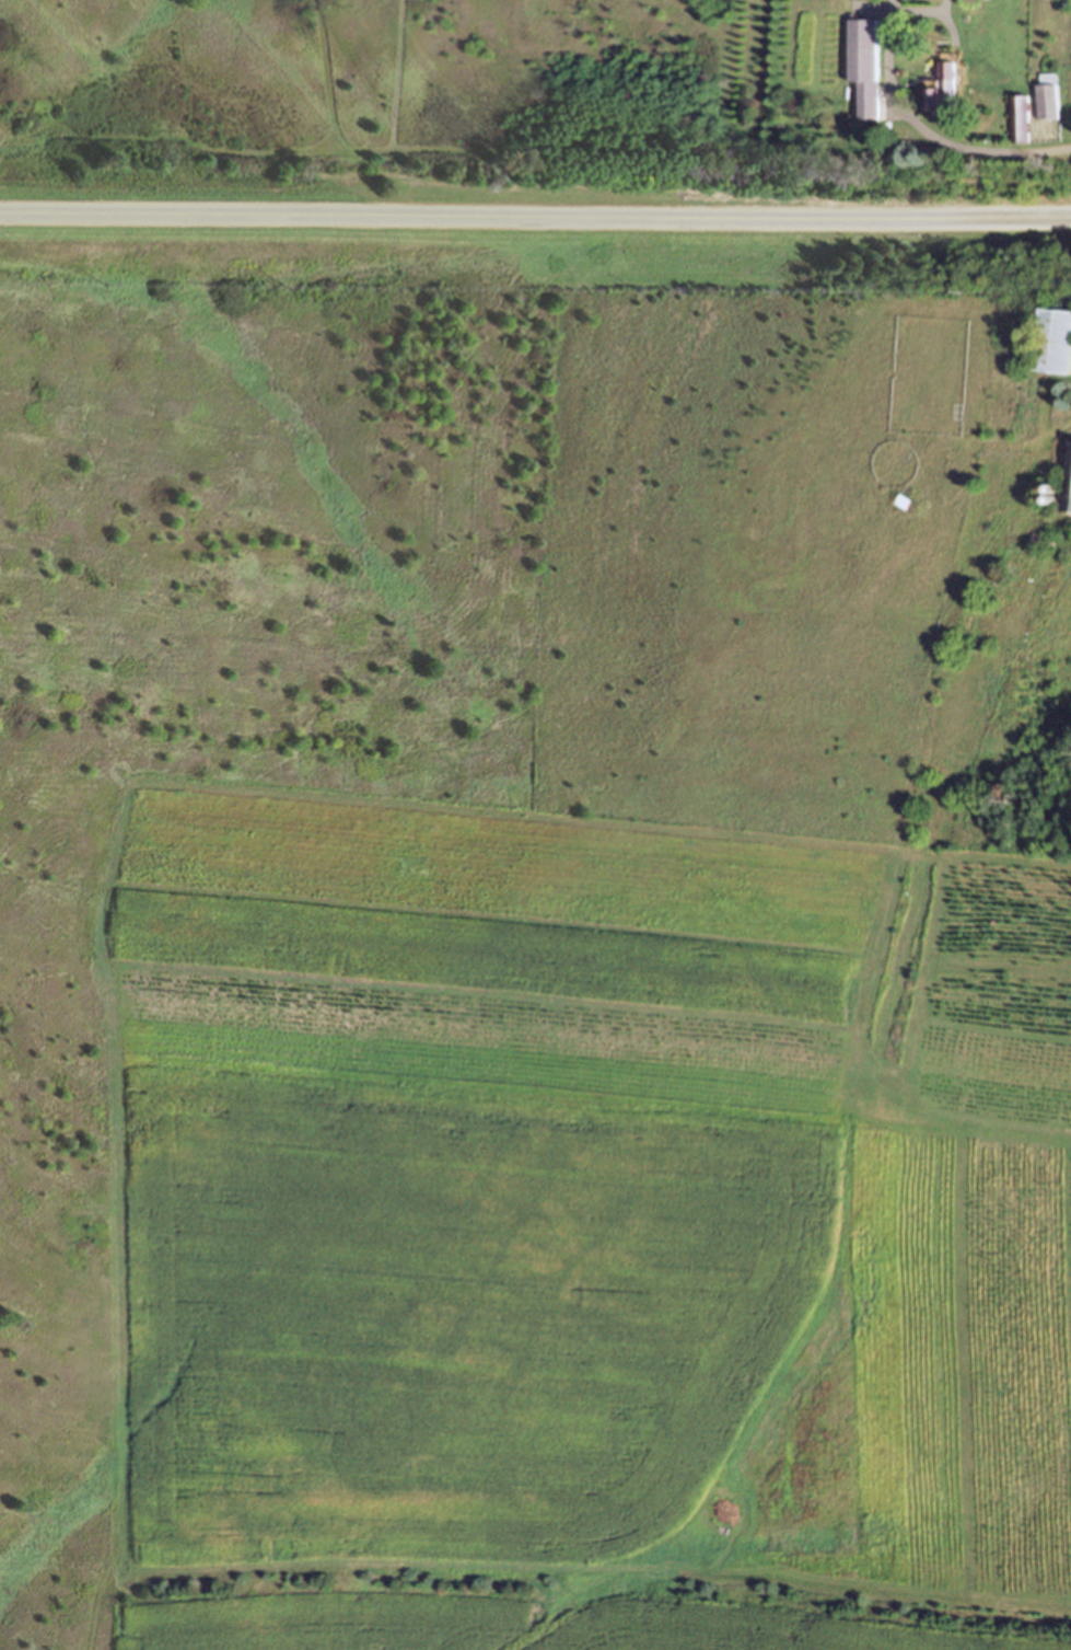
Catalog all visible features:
building: (866, 65)
building: (945, 85)
building: (1049, 95)
building: (1022, 117)
road: (935, 136)
road: (535, 218)
building: (1053, 341)
building: (1064, 485)
building: (1044, 539)

